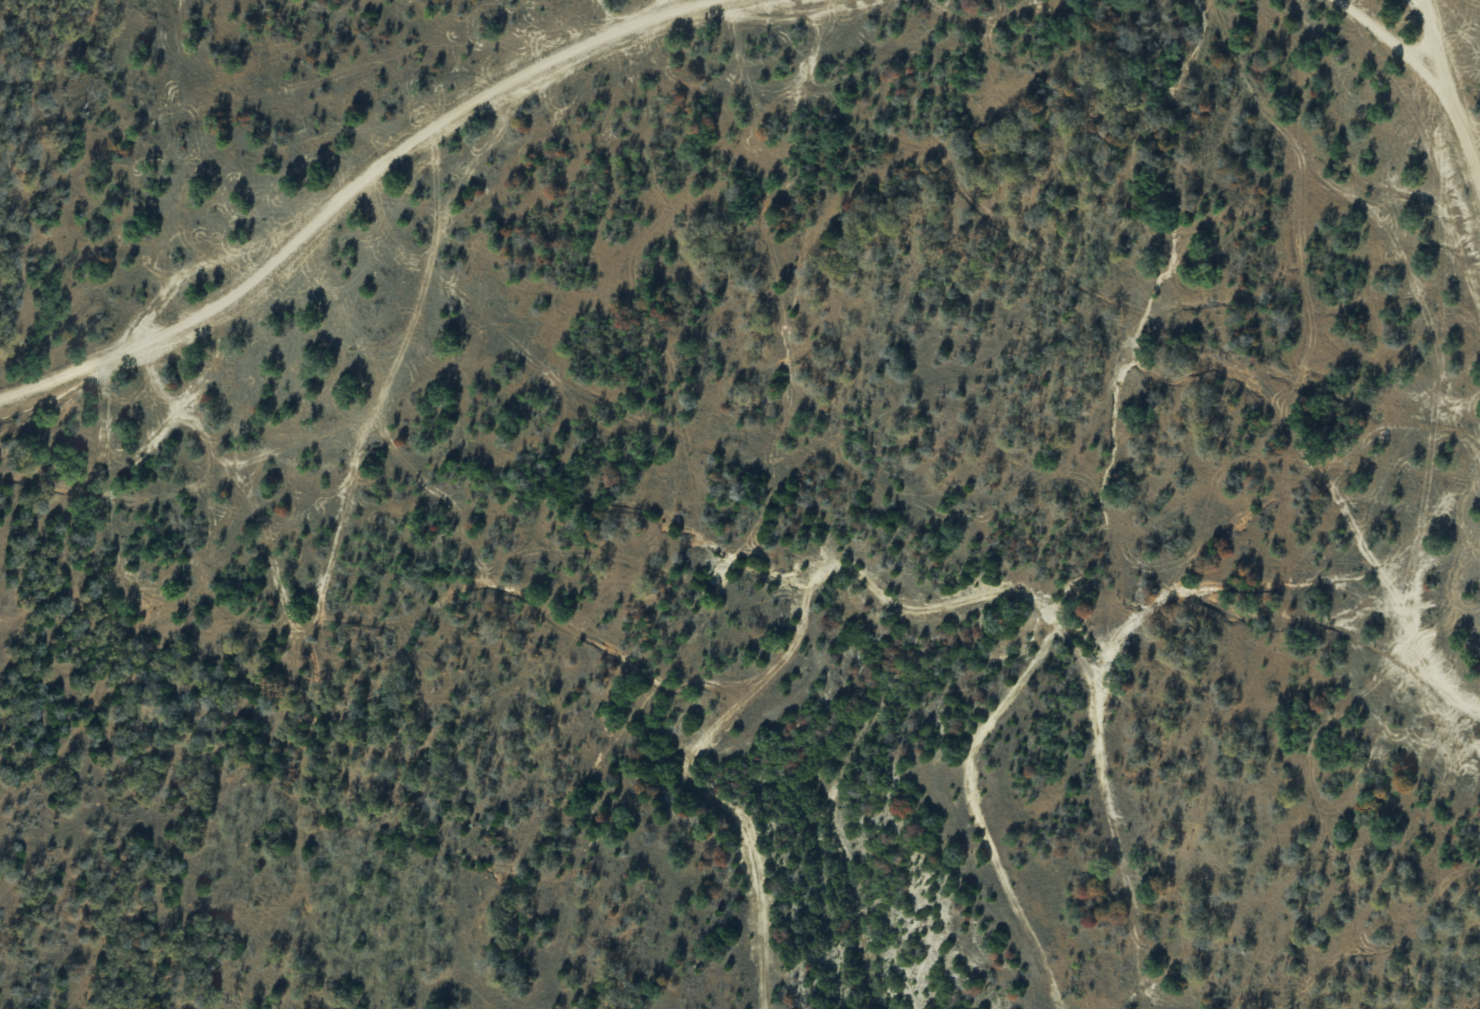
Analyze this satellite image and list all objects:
road: (1435, 68)
road: (357, 191)

